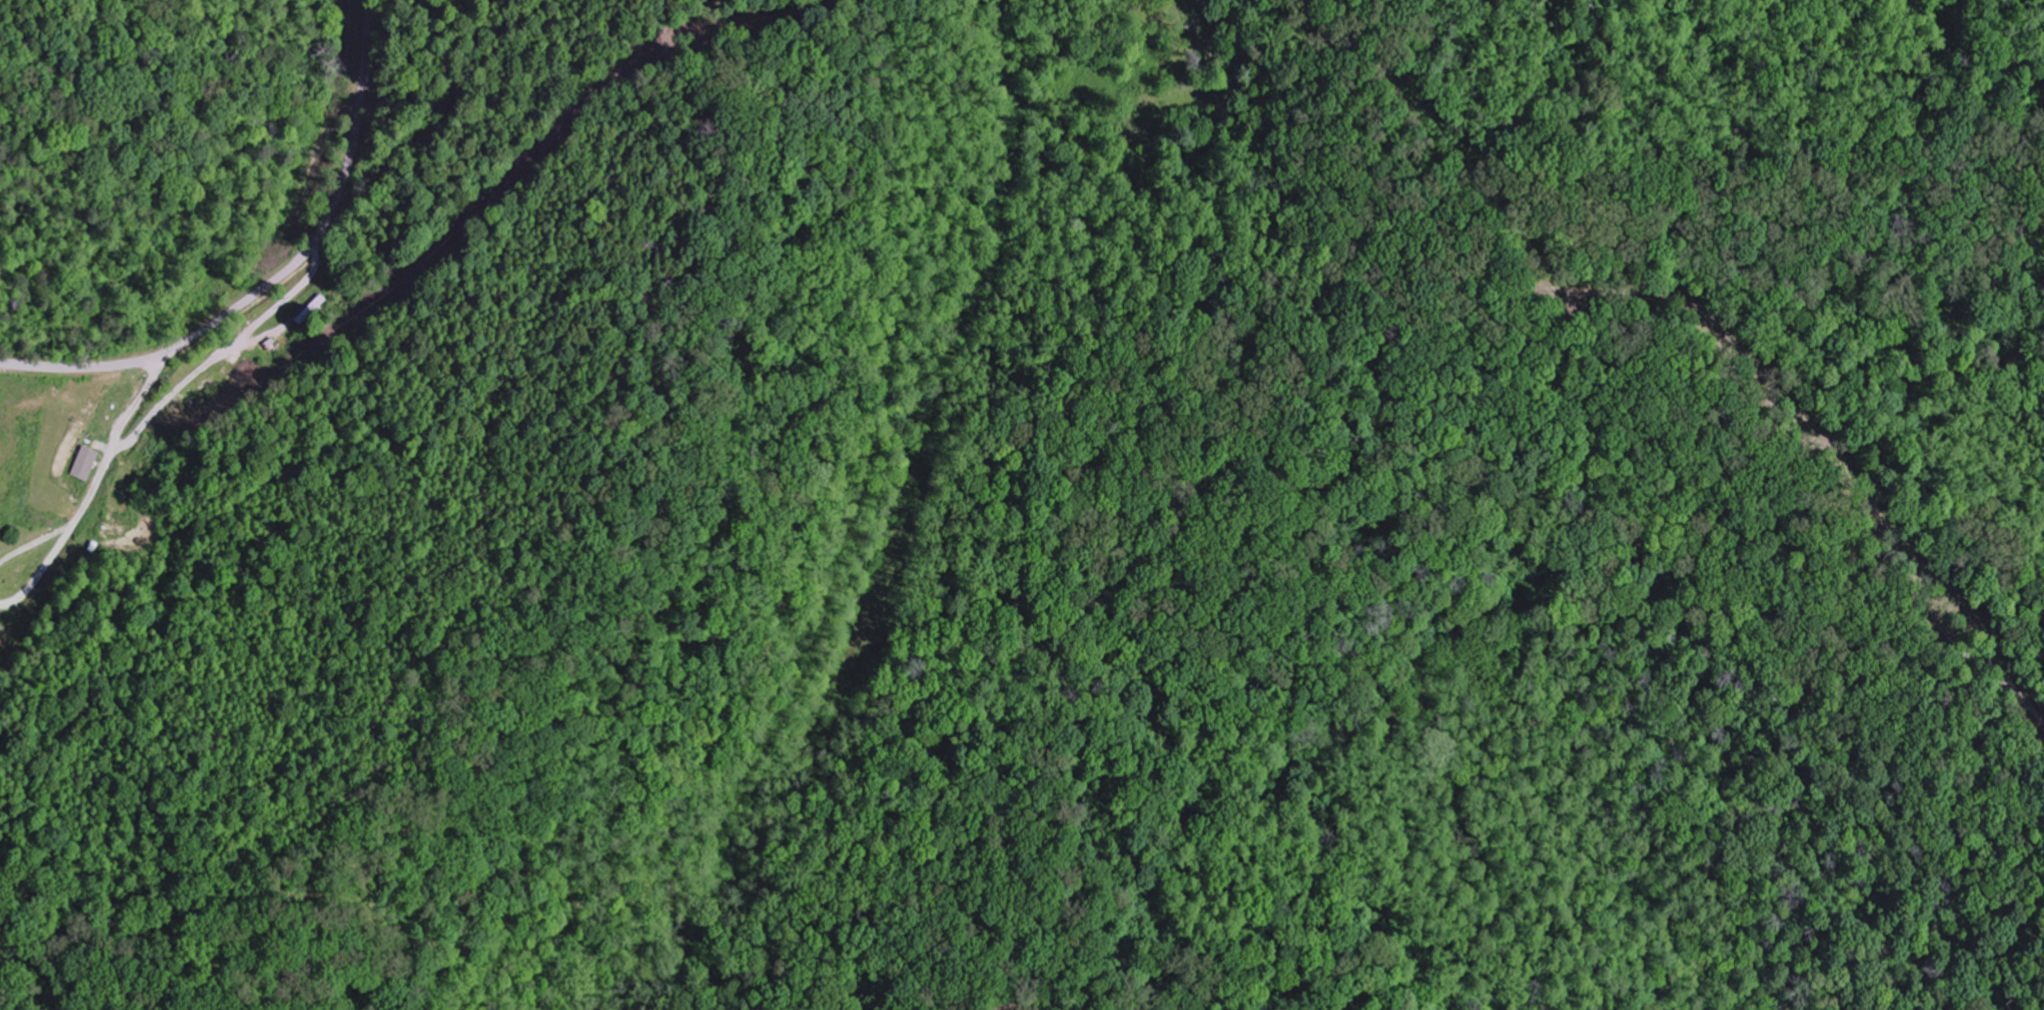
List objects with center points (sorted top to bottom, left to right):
road: (278, 278)
building: (85, 463)
road: (90, 489)
road: (1144, 535)

